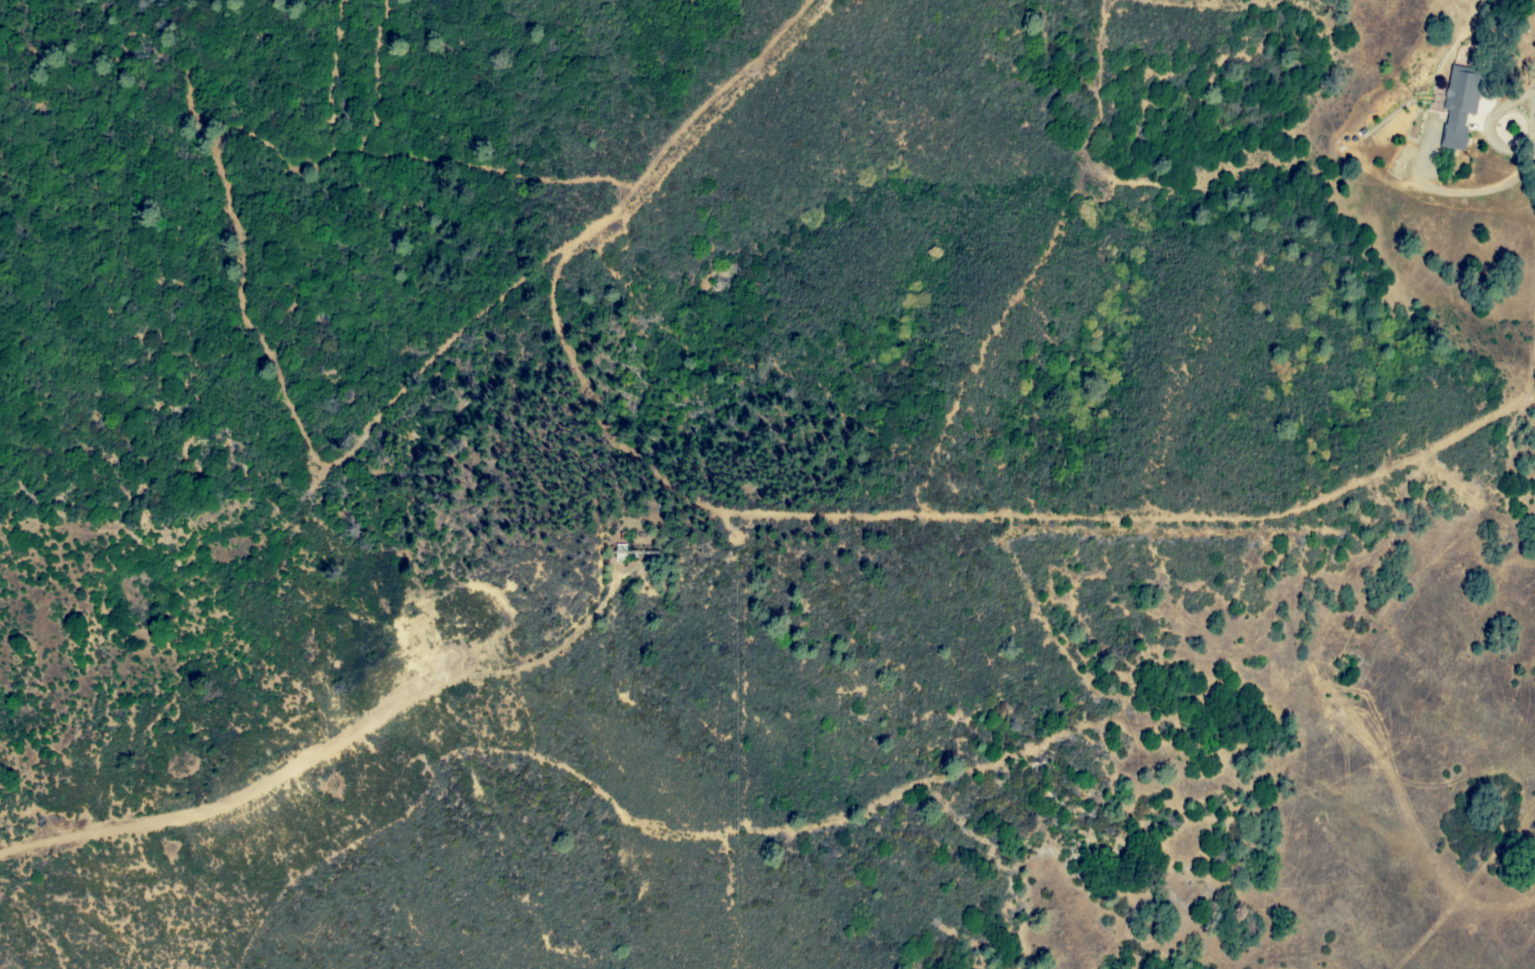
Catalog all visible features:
building: (1459, 105)

